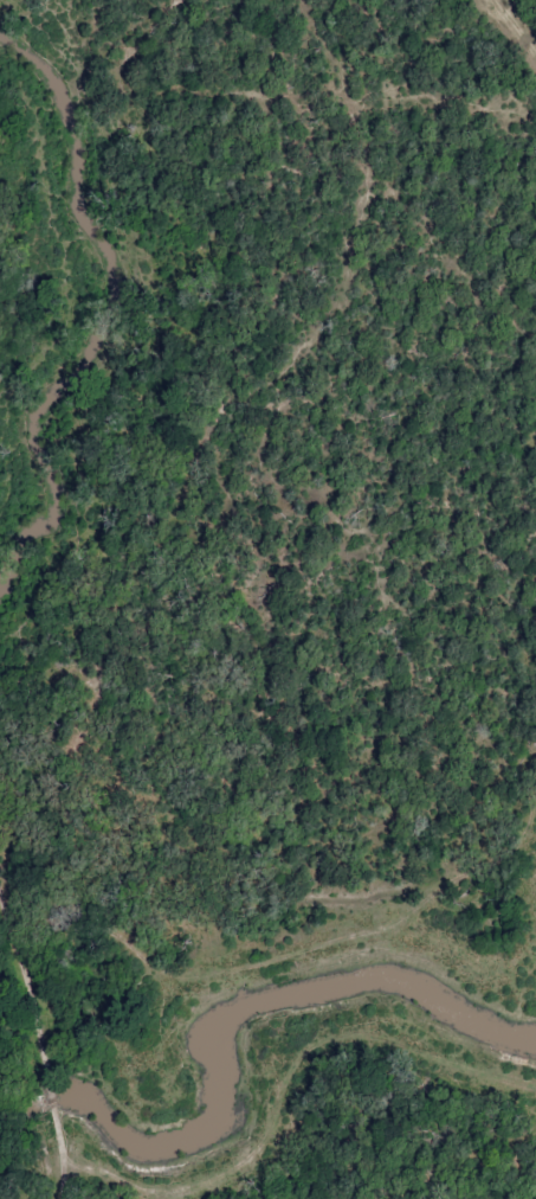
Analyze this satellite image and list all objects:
river: (206, 1028)
road: (32, 1045)

